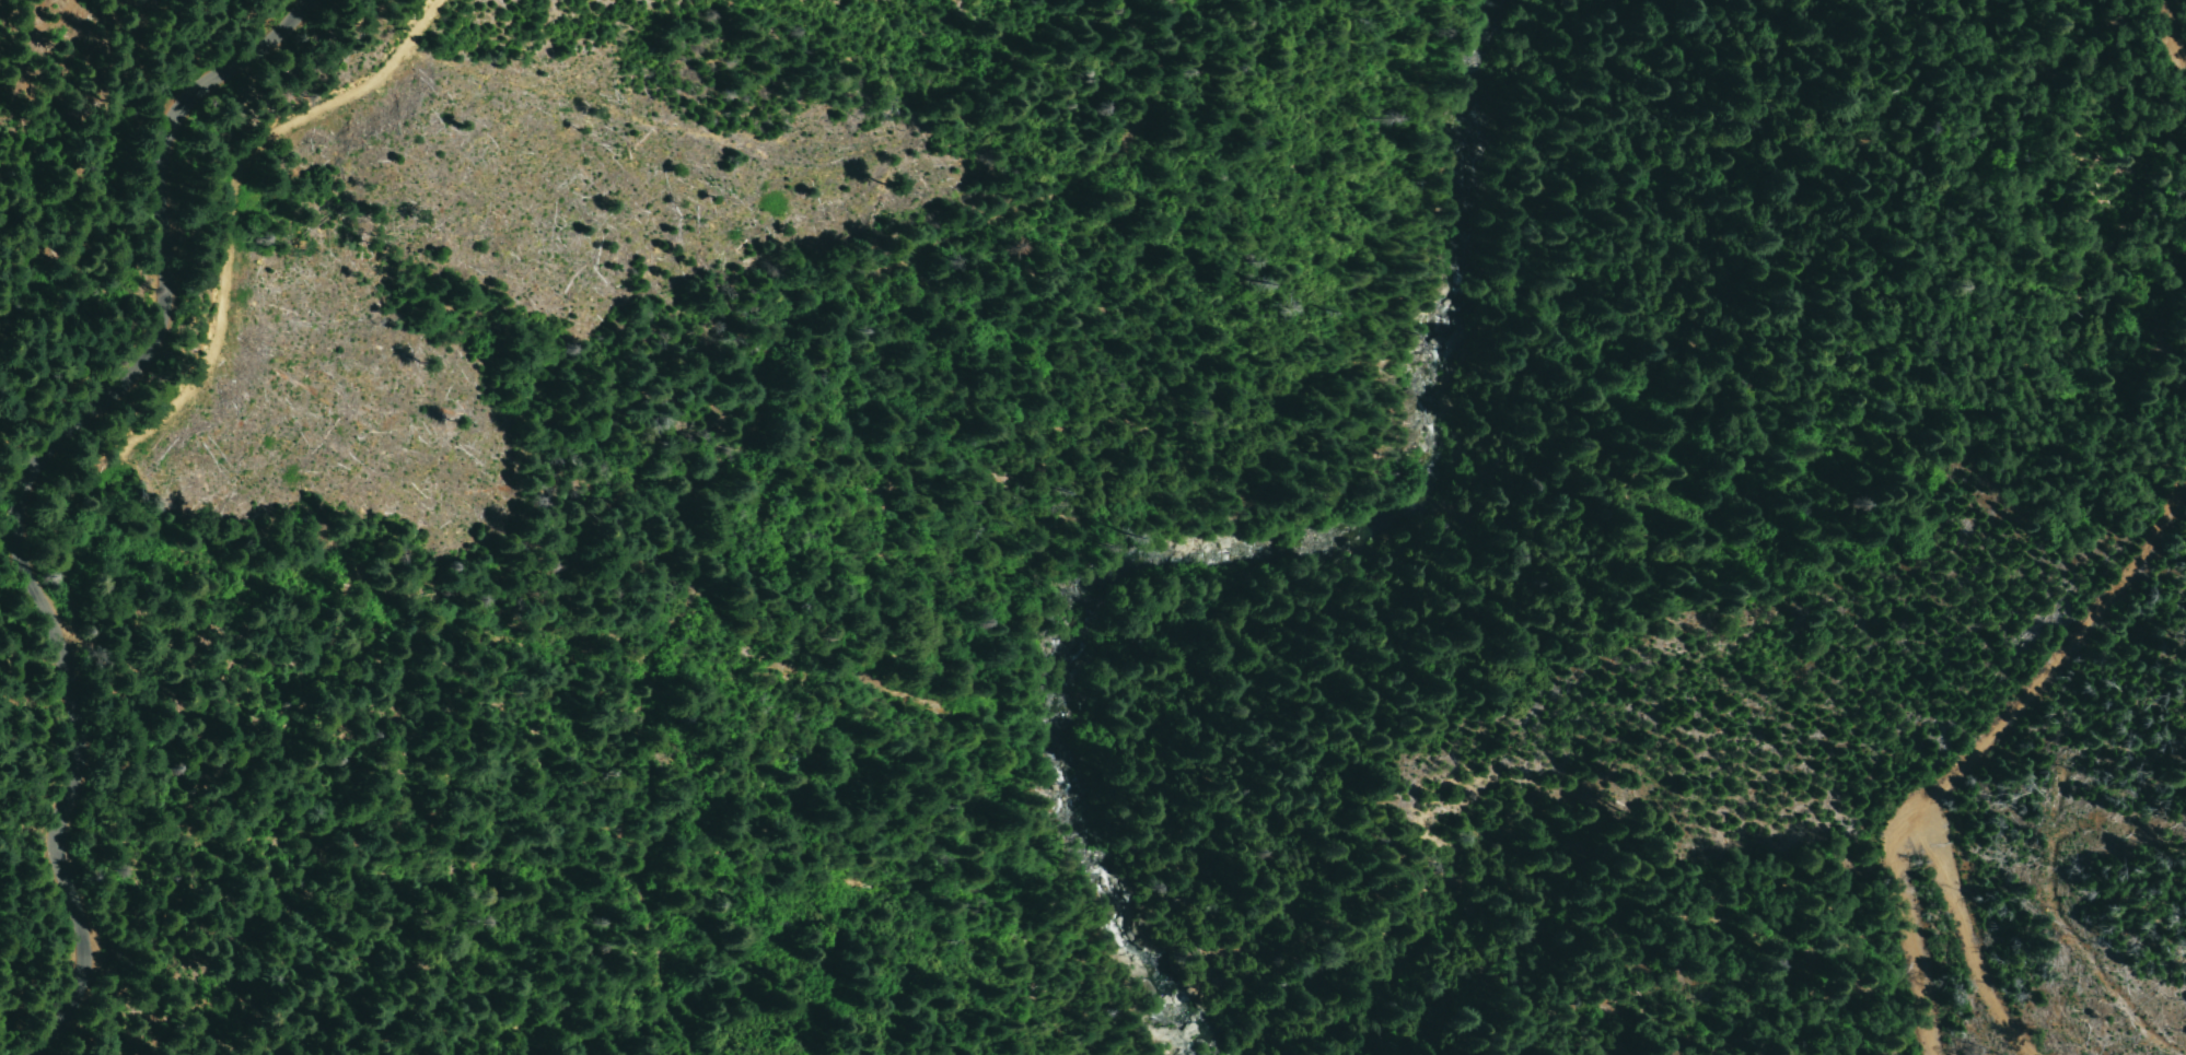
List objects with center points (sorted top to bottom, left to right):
road: (24, 488)
river: (1226, 511)

